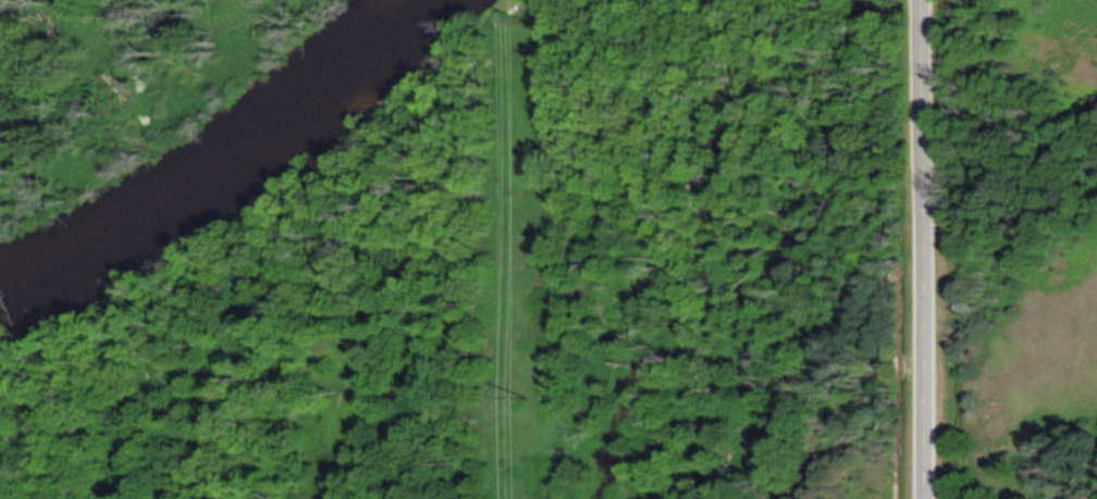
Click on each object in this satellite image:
park: (121, 82)
park: (1011, 100)
river: (226, 161)
road: (912, 249)

